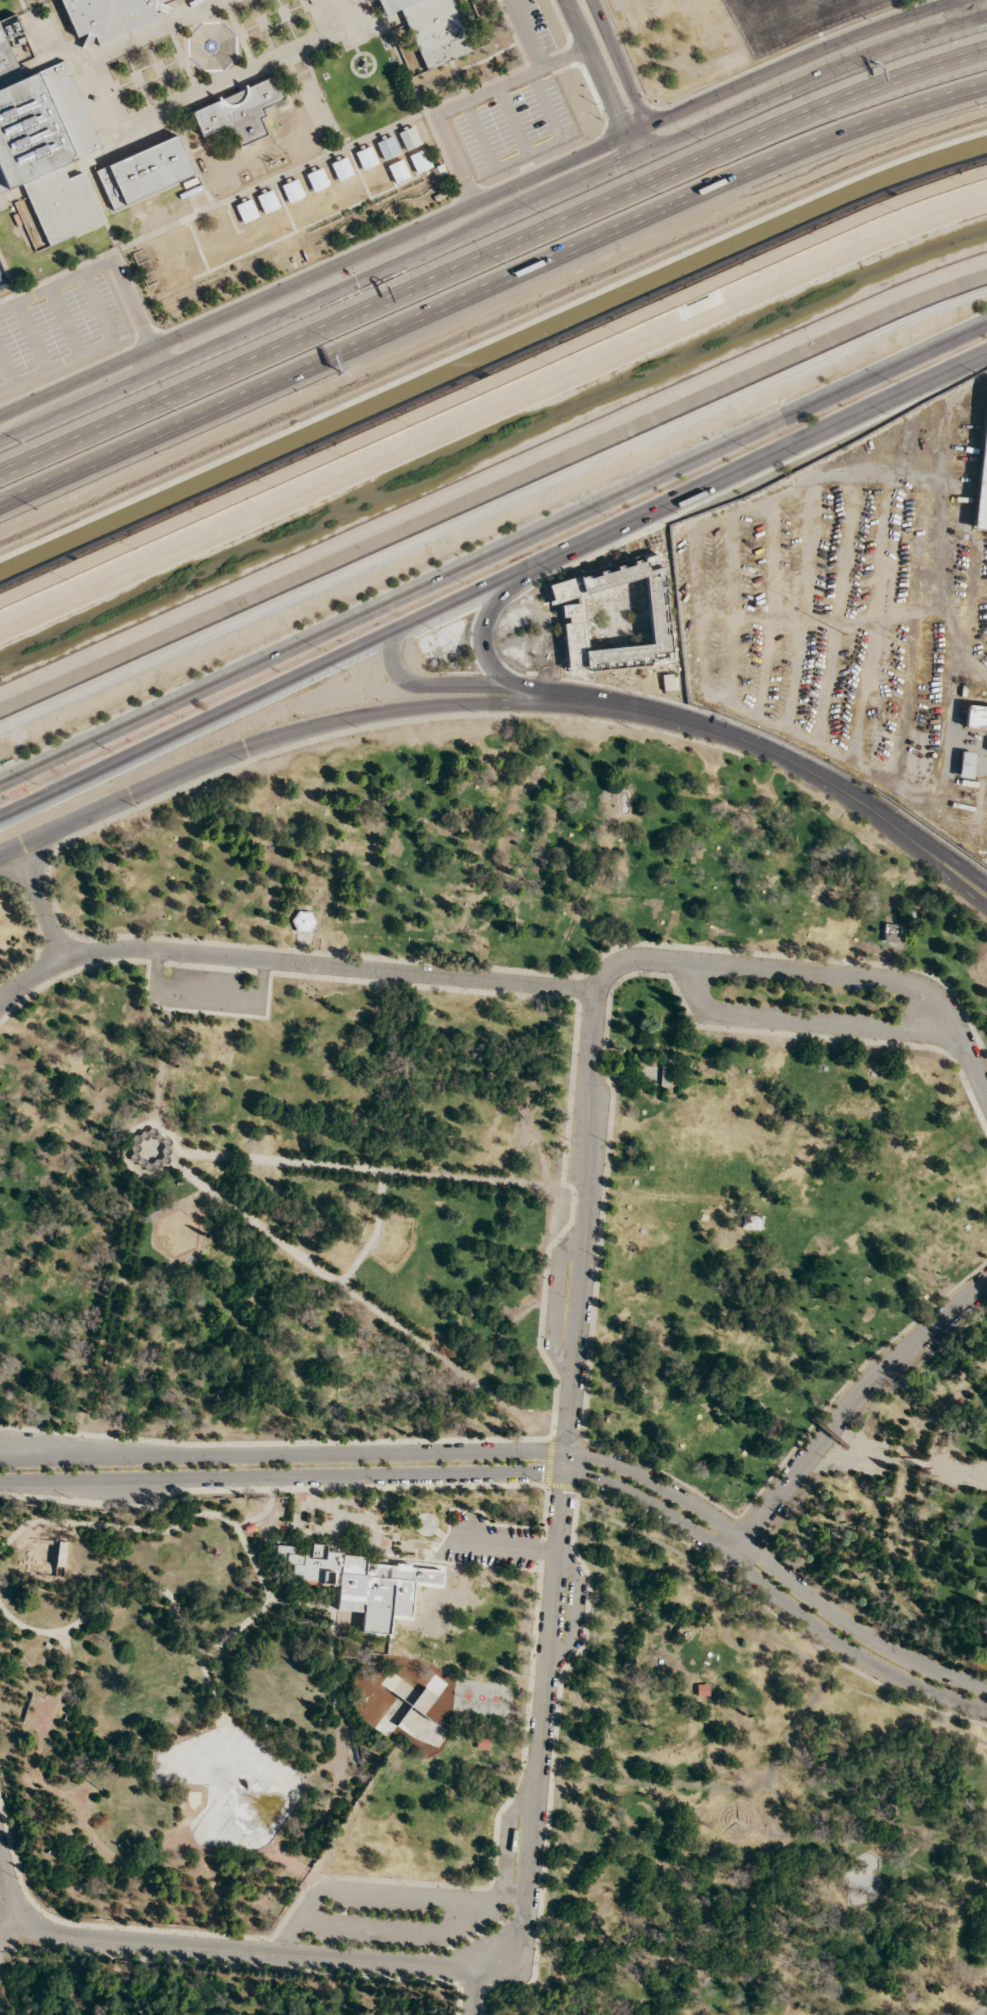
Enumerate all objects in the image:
road: (842, 1)
parking lot: (877, 2)
road: (970, 10)
building: (106, 16)
parking lot: (528, 27)
building: (431, 29)
road: (525, 34)
park: (728, 41)
road: (801, 58)
road: (620, 63)
road: (598, 78)
road: (808, 81)
road: (466, 100)
building: (239, 111)
road: (512, 119)
parking lot: (515, 126)
road: (653, 137)
building: (408, 138)
building: (45, 145)
building: (387, 148)
road: (527, 151)
building: (366, 157)
building: (419, 161)
building: (341, 168)
building: (397, 171)
building: (144, 172)
building: (316, 179)
building: (291, 190)
building: (267, 201)
building: (246, 211)
road: (490, 254)
road: (110, 262)
road: (323, 269)
road: (490, 285)
road: (316, 298)
road: (64, 321)
parking lot: (58, 333)
road: (32, 336)
road: (89, 349)
road: (7, 368)
river: (490, 442)
road: (612, 456)
building: (981, 468)
road: (492, 549)
road: (492, 582)
parking lot: (852, 613)
building: (613, 616)
road: (487, 664)
road: (121, 687)
road: (460, 689)
road: (454, 703)
building: (976, 716)
building: (966, 764)
road: (39, 899)
building: (303, 922)
road: (27, 977)
road: (144, 980)
parking lot: (202, 988)
road: (208, 991)
road: (564, 993)
road: (161, 1098)
park: (492, 1394)
road: (51, 1432)
road: (540, 1441)
parking lot: (491, 1544)
park: (486, 1697)
park: (406, 1707)
road: (9, 1884)
parking lot: (420, 1908)

